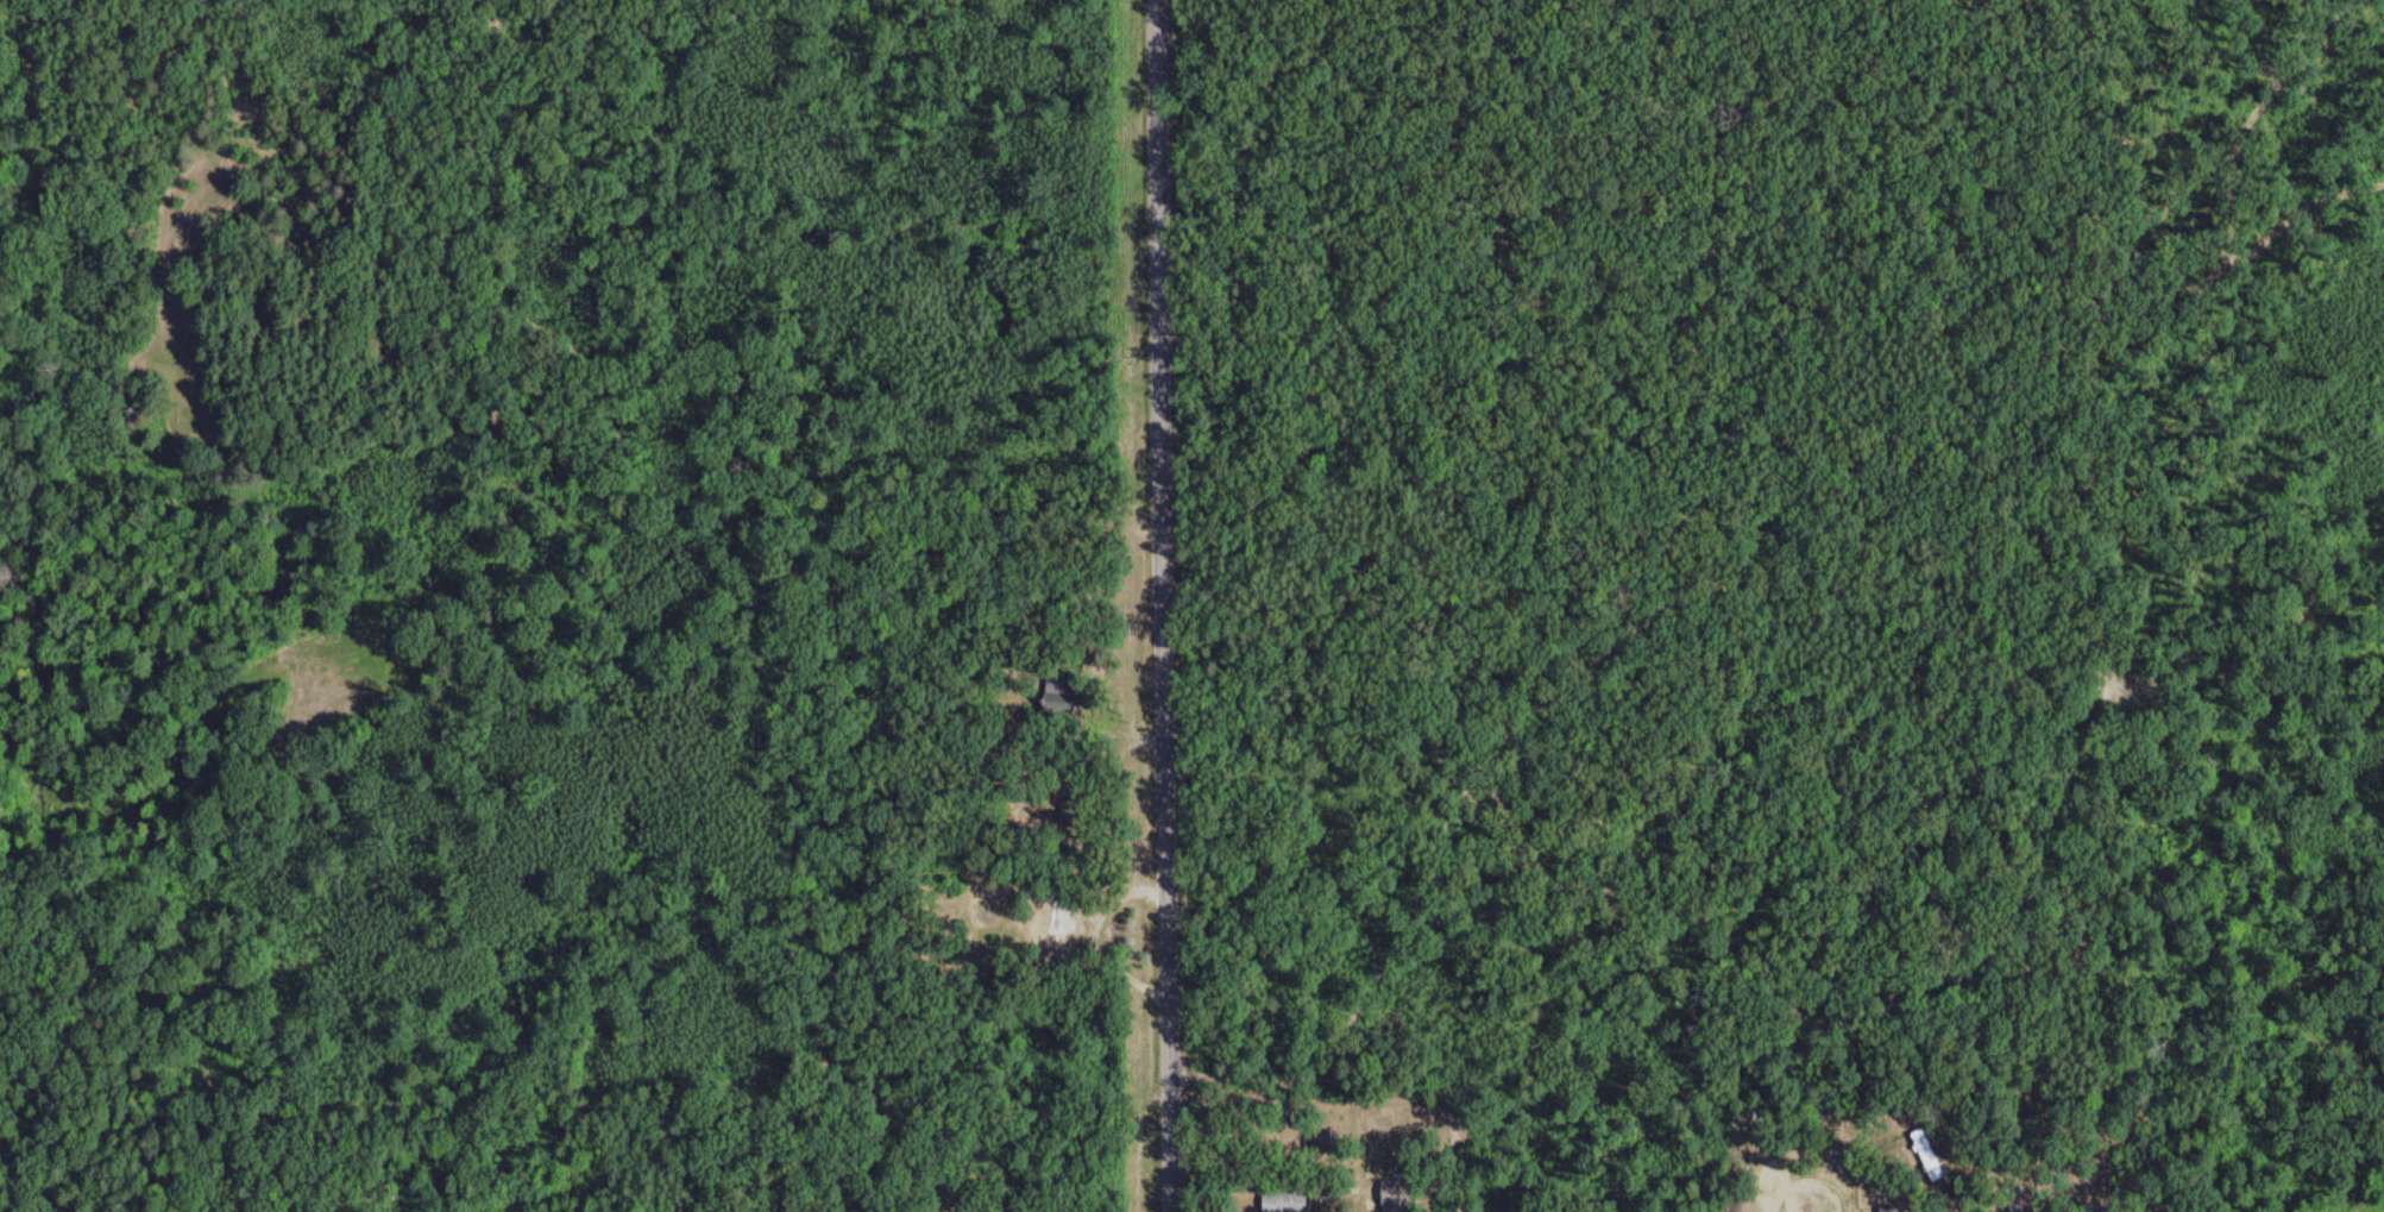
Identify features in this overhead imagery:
road: (1153, 237)
road: (1711, 580)
road: (1162, 842)
building: (1065, 921)
road: (2011, 1124)
building: (1398, 1195)
building: (1287, 1199)
building: (1887, 1208)

